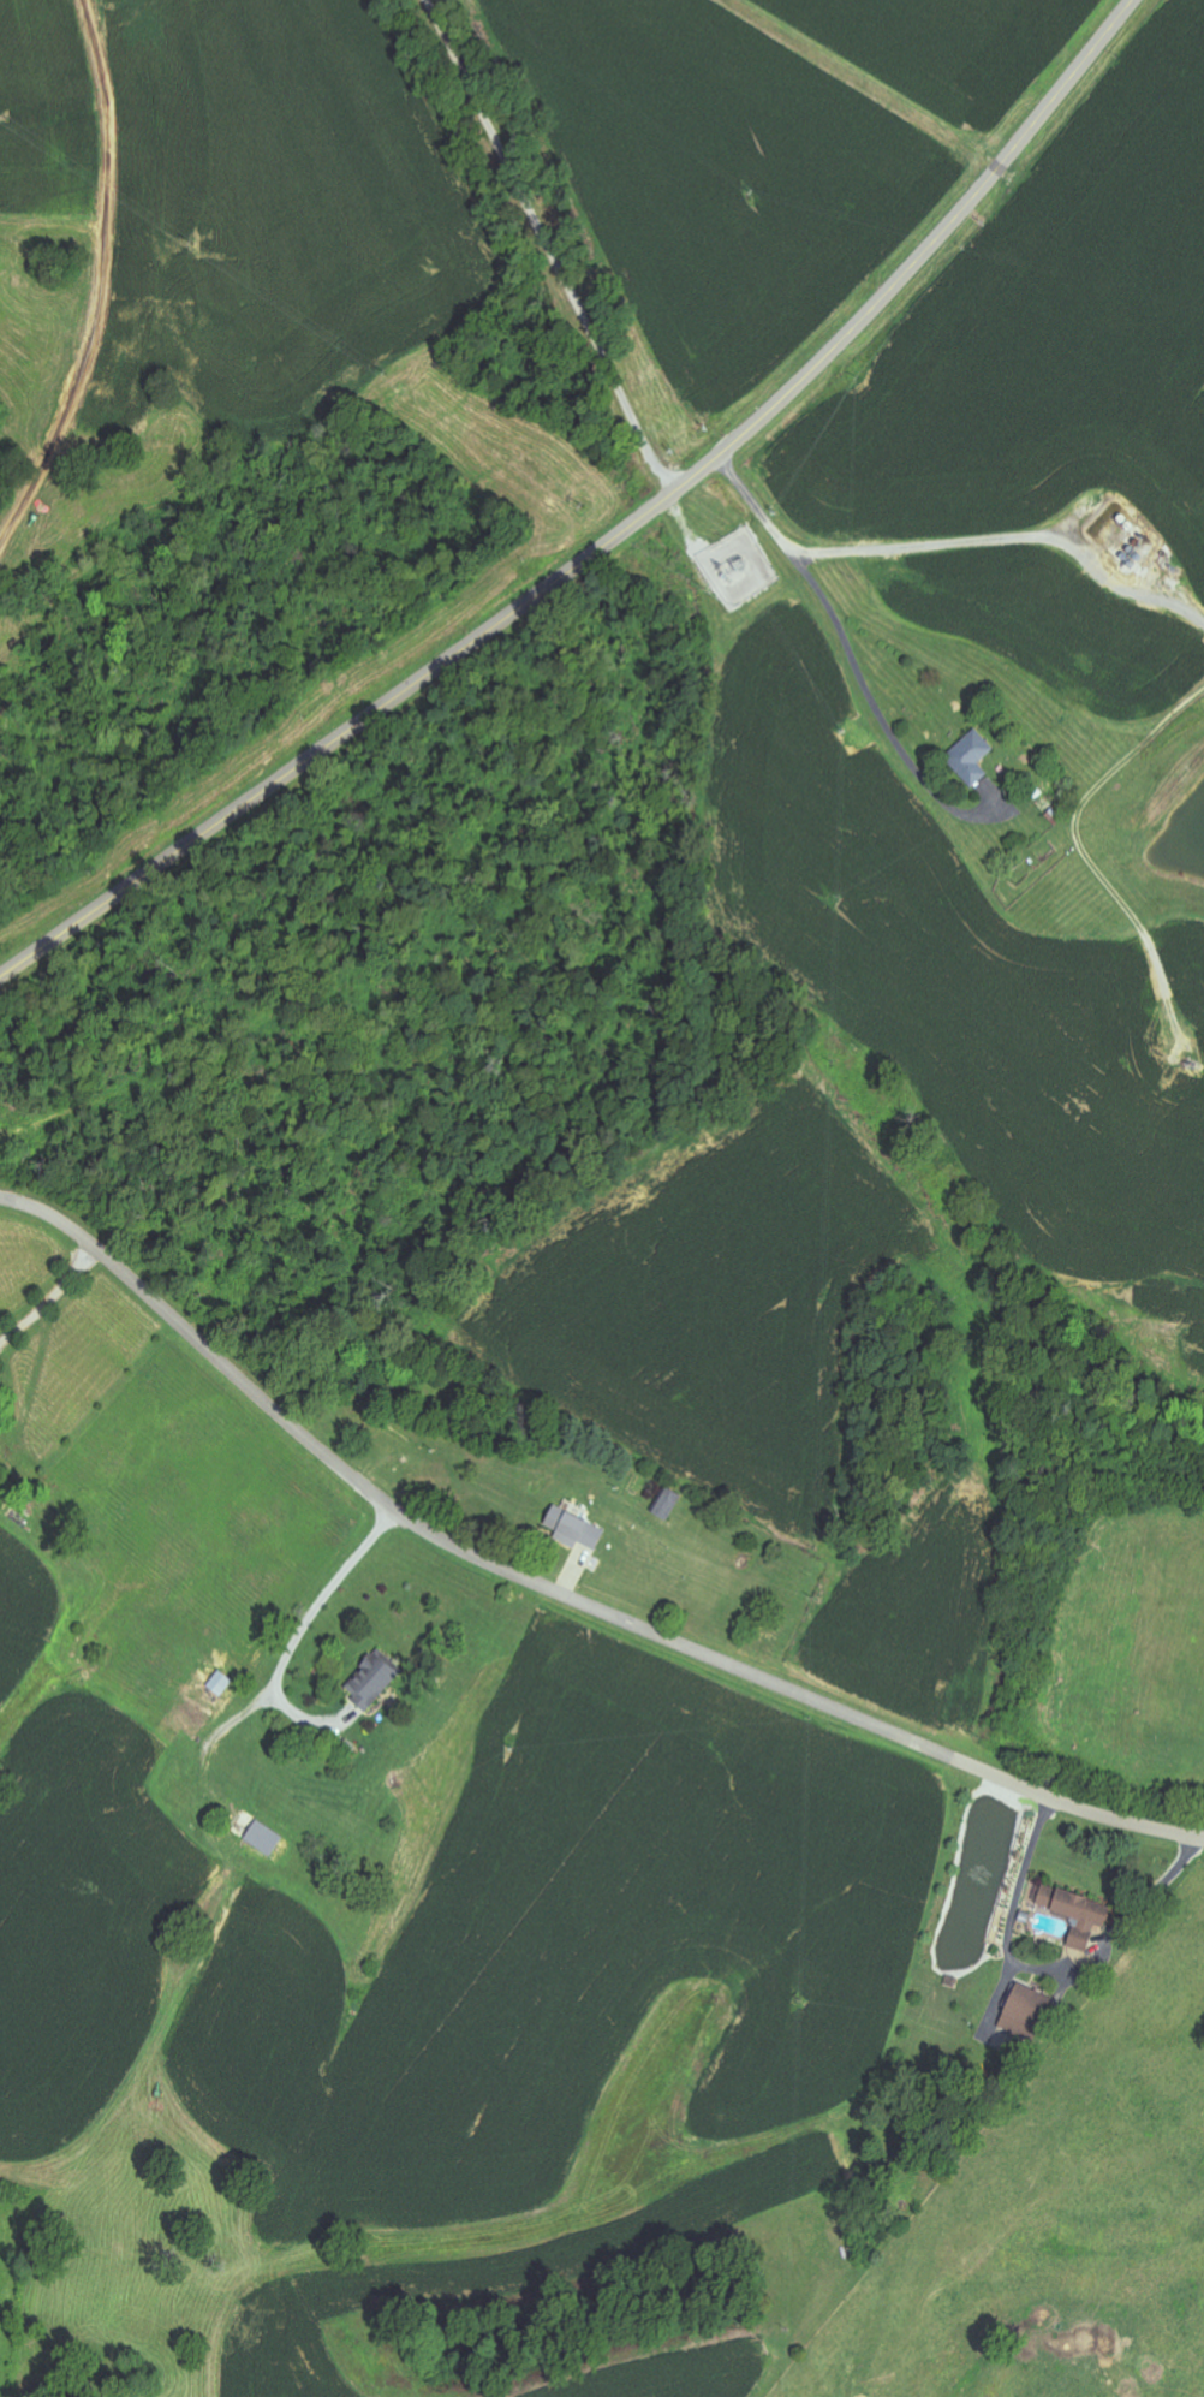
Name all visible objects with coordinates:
road: (612, 539)
road: (825, 599)
building: (972, 759)
building: (669, 1506)
building: (576, 1530)
road: (558, 1595)
building: (374, 1682)
building: (266, 1839)
building: (1078, 1915)
building: (1026, 2012)

